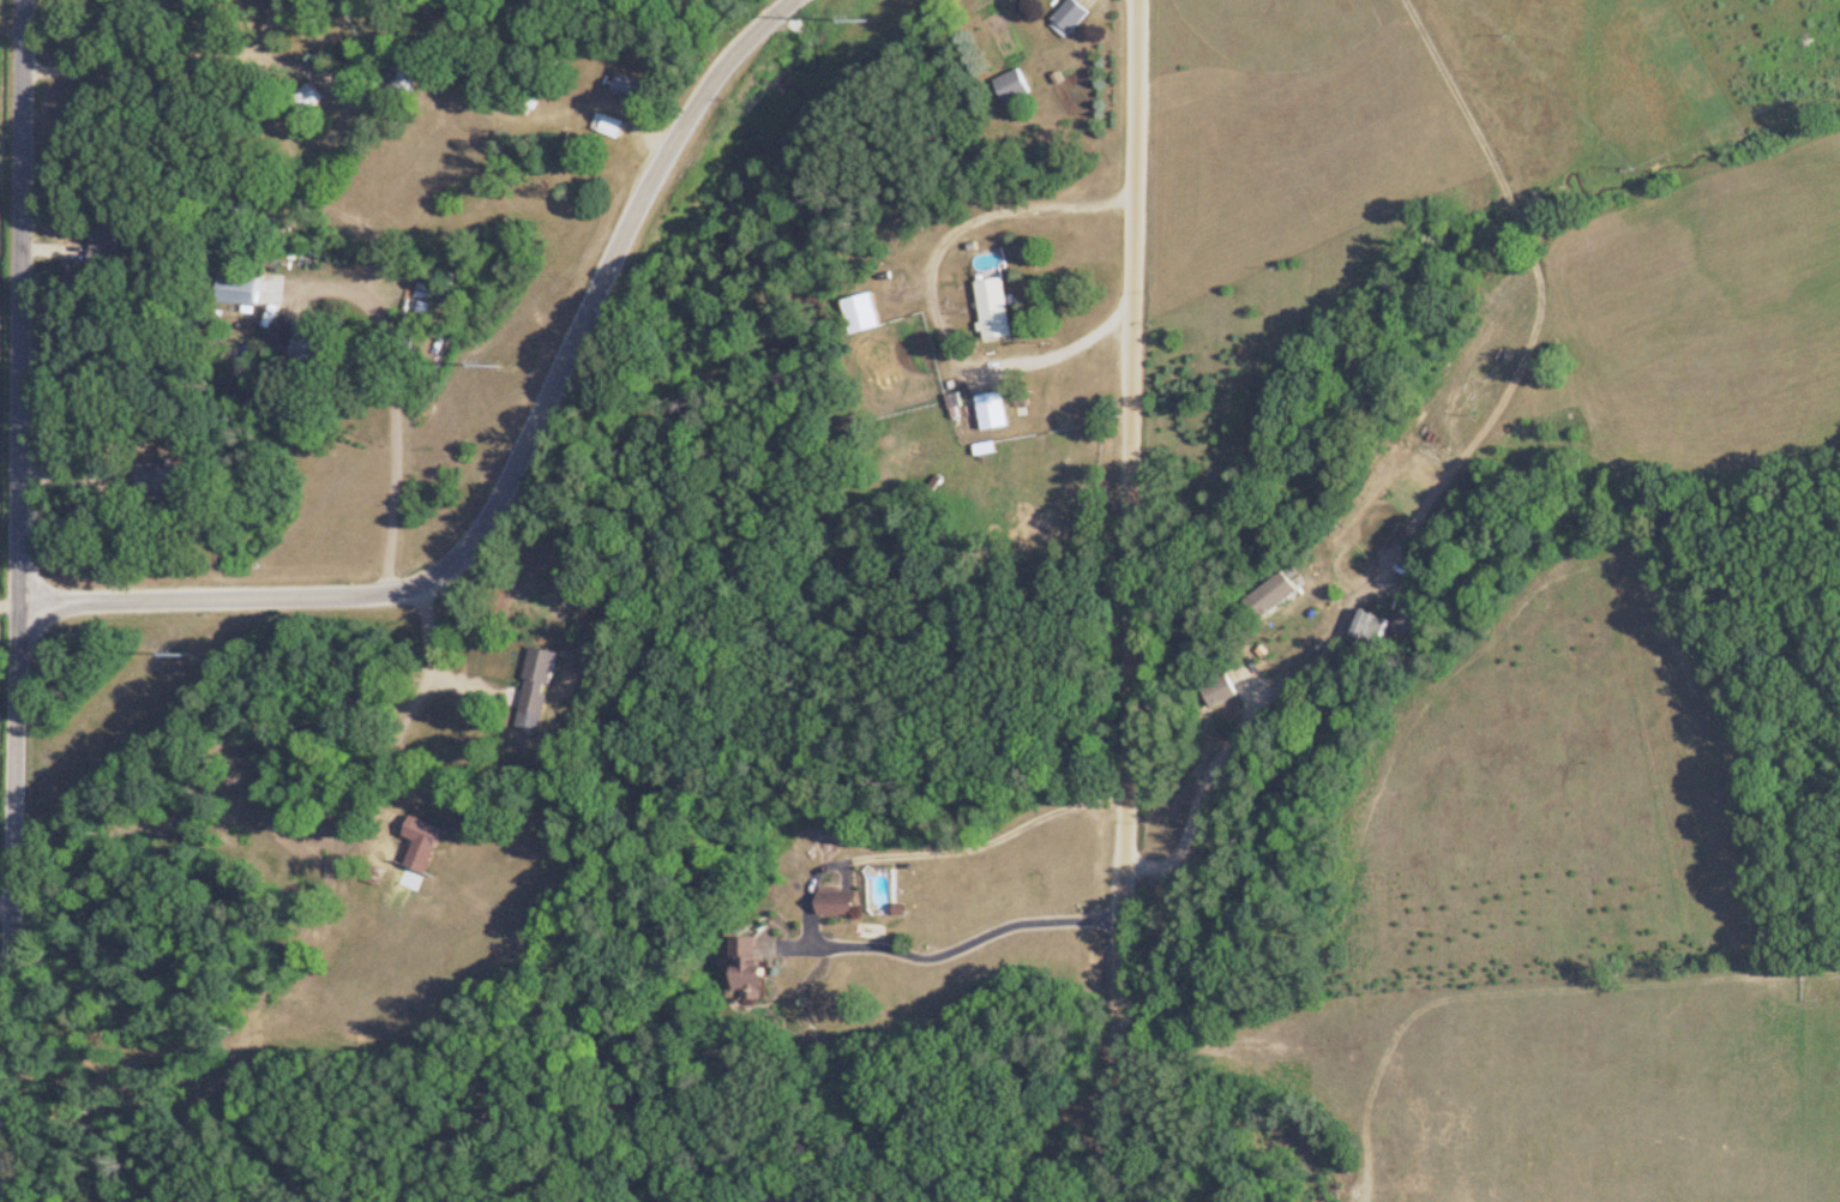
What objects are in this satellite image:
building: (624, 88)
building: (1008, 88)
building: (601, 126)
building: (100, 247)
road: (931, 295)
road: (16, 303)
building: (988, 311)
road: (510, 473)
road: (1118, 600)
road: (6, 601)
building: (1357, 623)
road: (435, 661)
road: (413, 716)
road: (1195, 806)
road: (6, 824)
road: (2, 901)
road: (952, 945)

